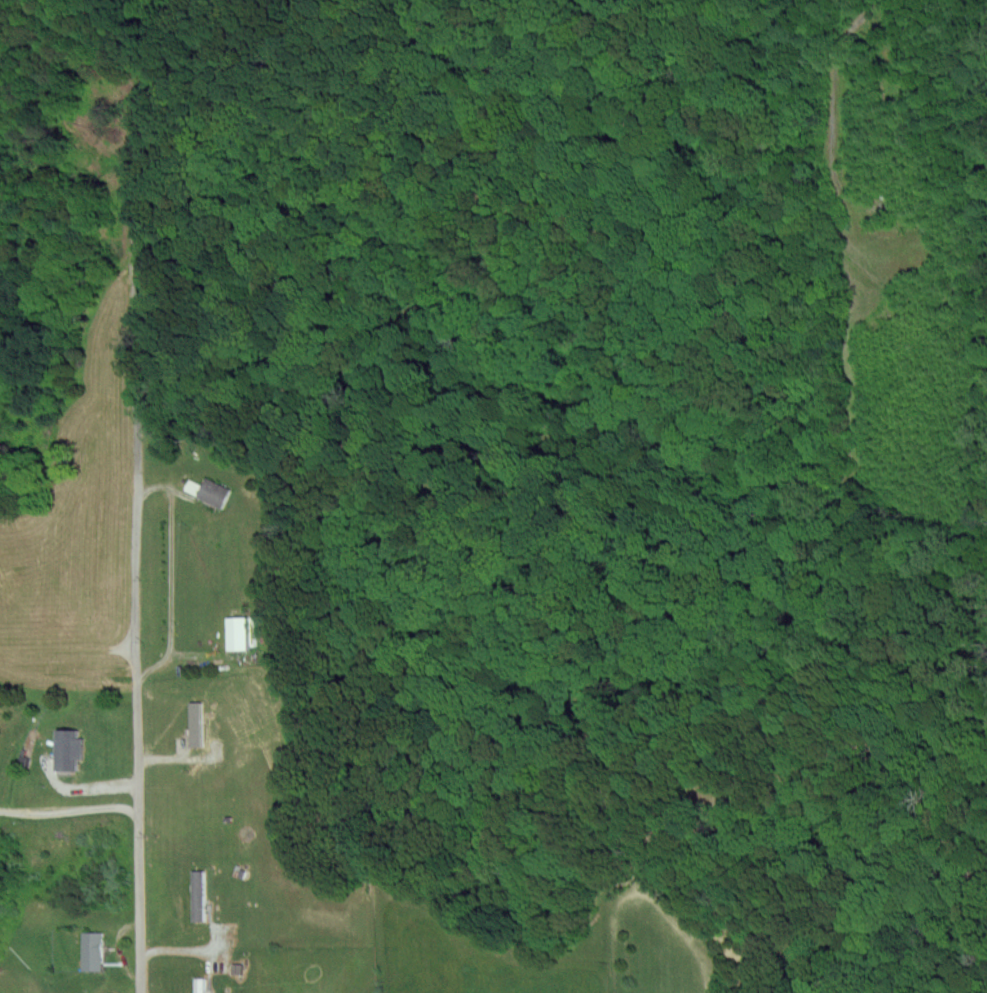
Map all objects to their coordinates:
road: (175, 484)
building: (214, 492)
road: (136, 530)
road: (168, 570)
building: (86, 606)
building: (237, 632)
road: (203, 657)
building: (193, 722)
building: (72, 757)
road: (81, 788)
road: (70, 808)
building: (198, 894)
building: (94, 949)
building: (239, 968)
building: (201, 985)

